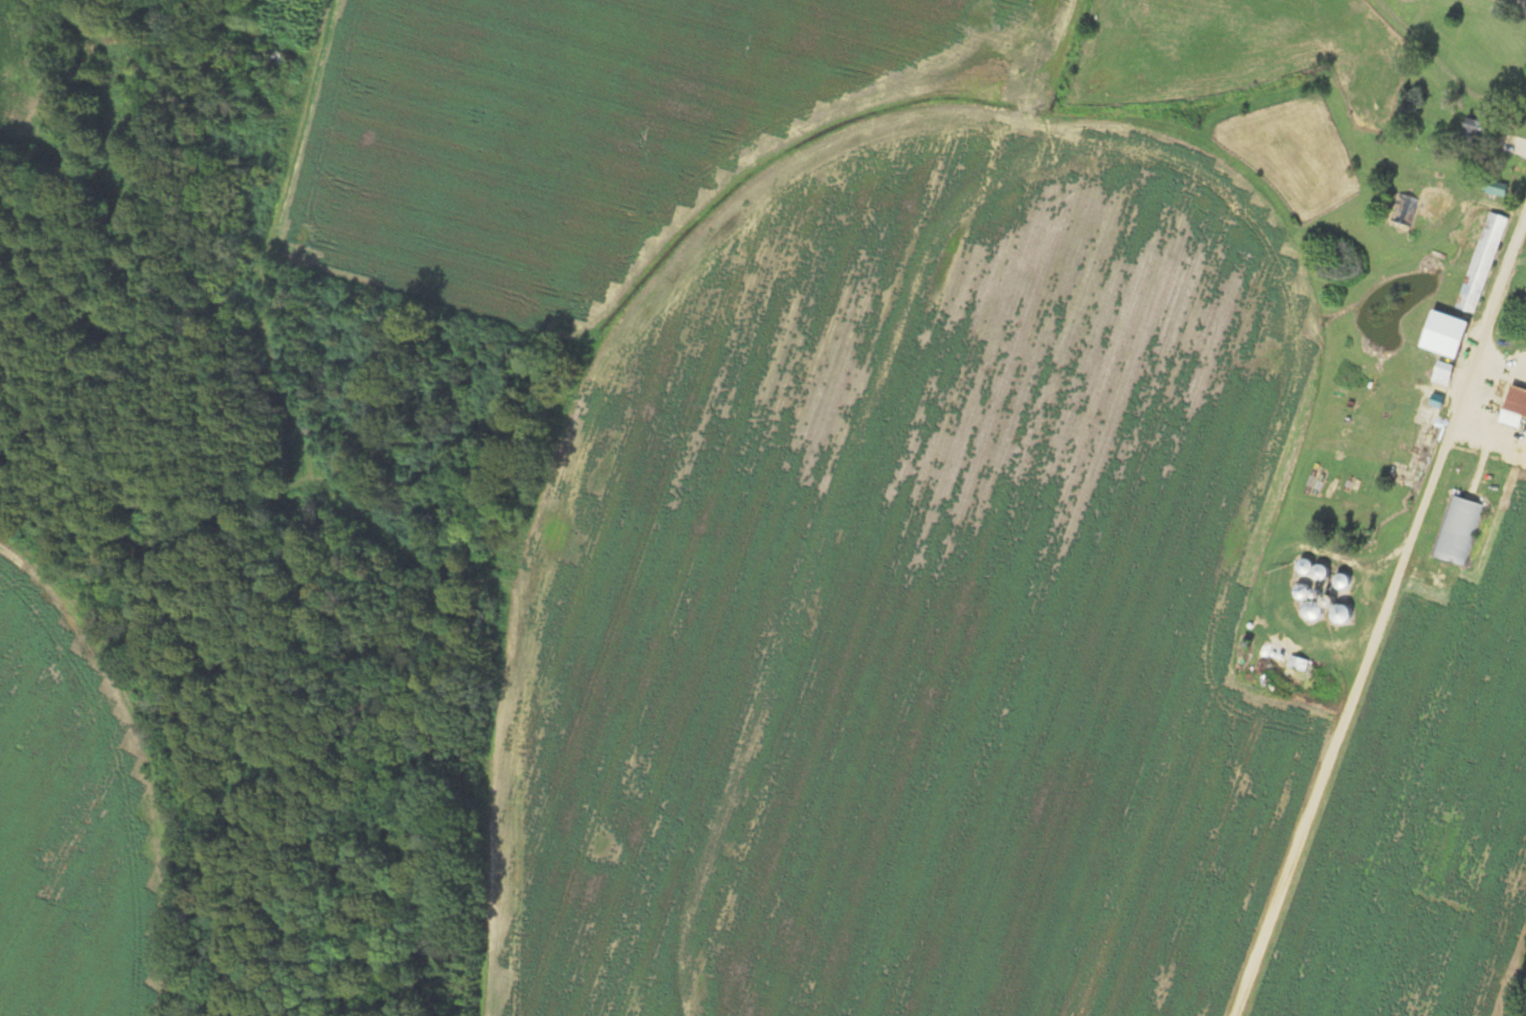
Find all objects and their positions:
building: (279, 62)
building: (1484, 130)
building: (1500, 189)
building: (1404, 211)
building: (1483, 262)
building: (1449, 335)
road: (1492, 356)
road: (272, 370)
building: (1445, 373)
building: (1517, 401)
building: (1456, 530)
building: (1311, 571)
road: (17, 578)
building: (1303, 592)
road: (1361, 596)
building: (1314, 610)

